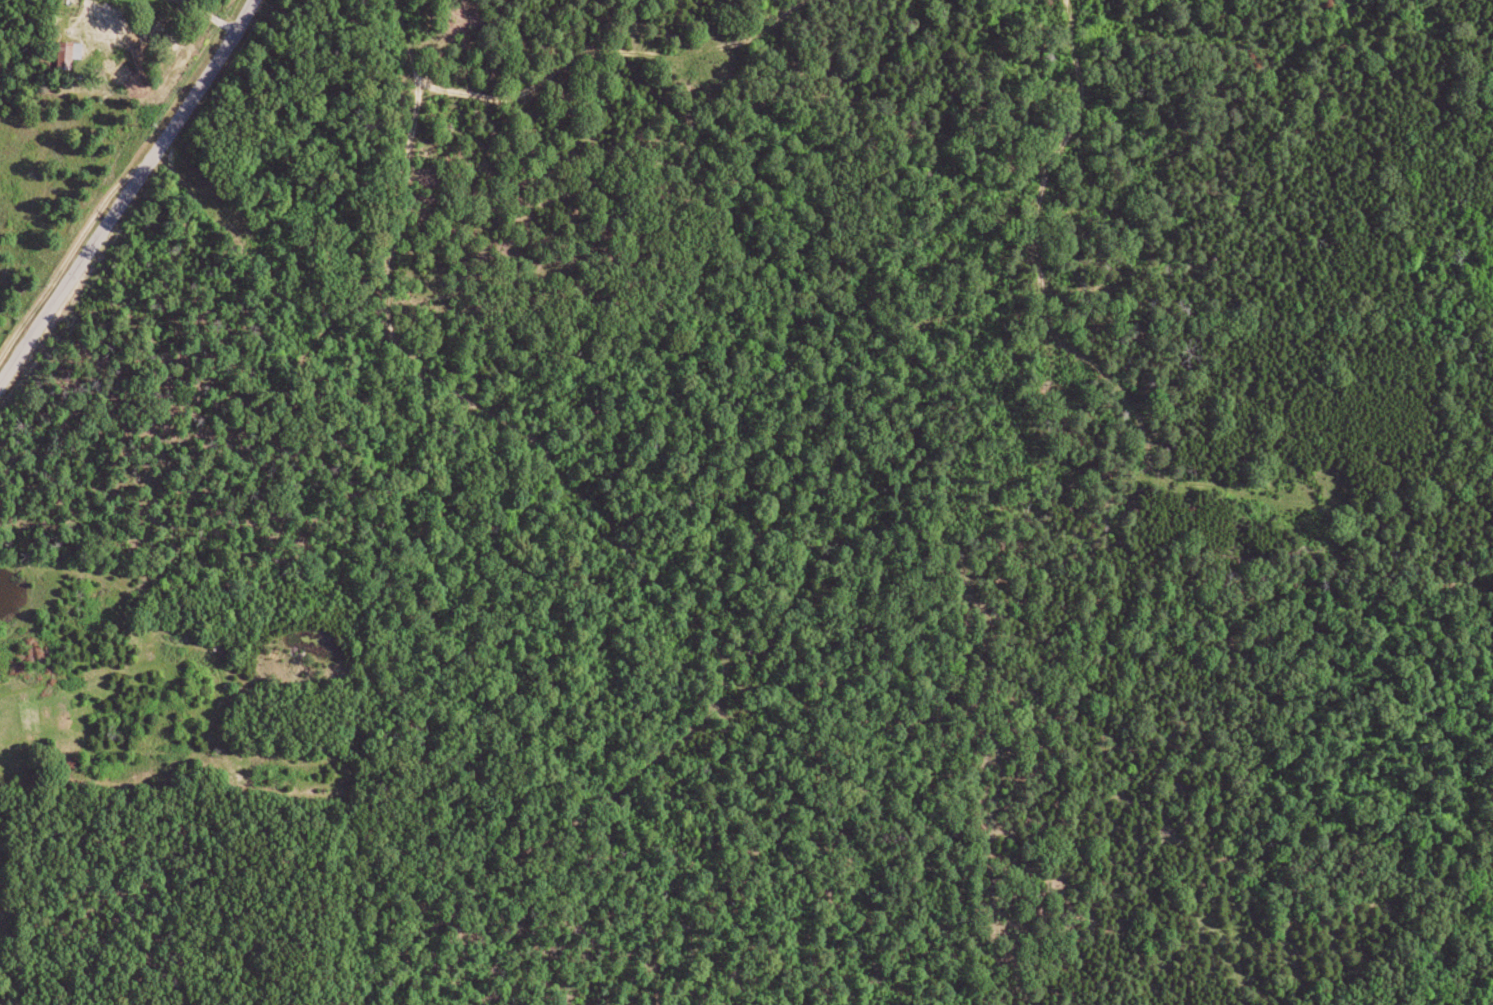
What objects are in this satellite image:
road: (209, 15)
building: (72, 52)
road: (129, 190)

